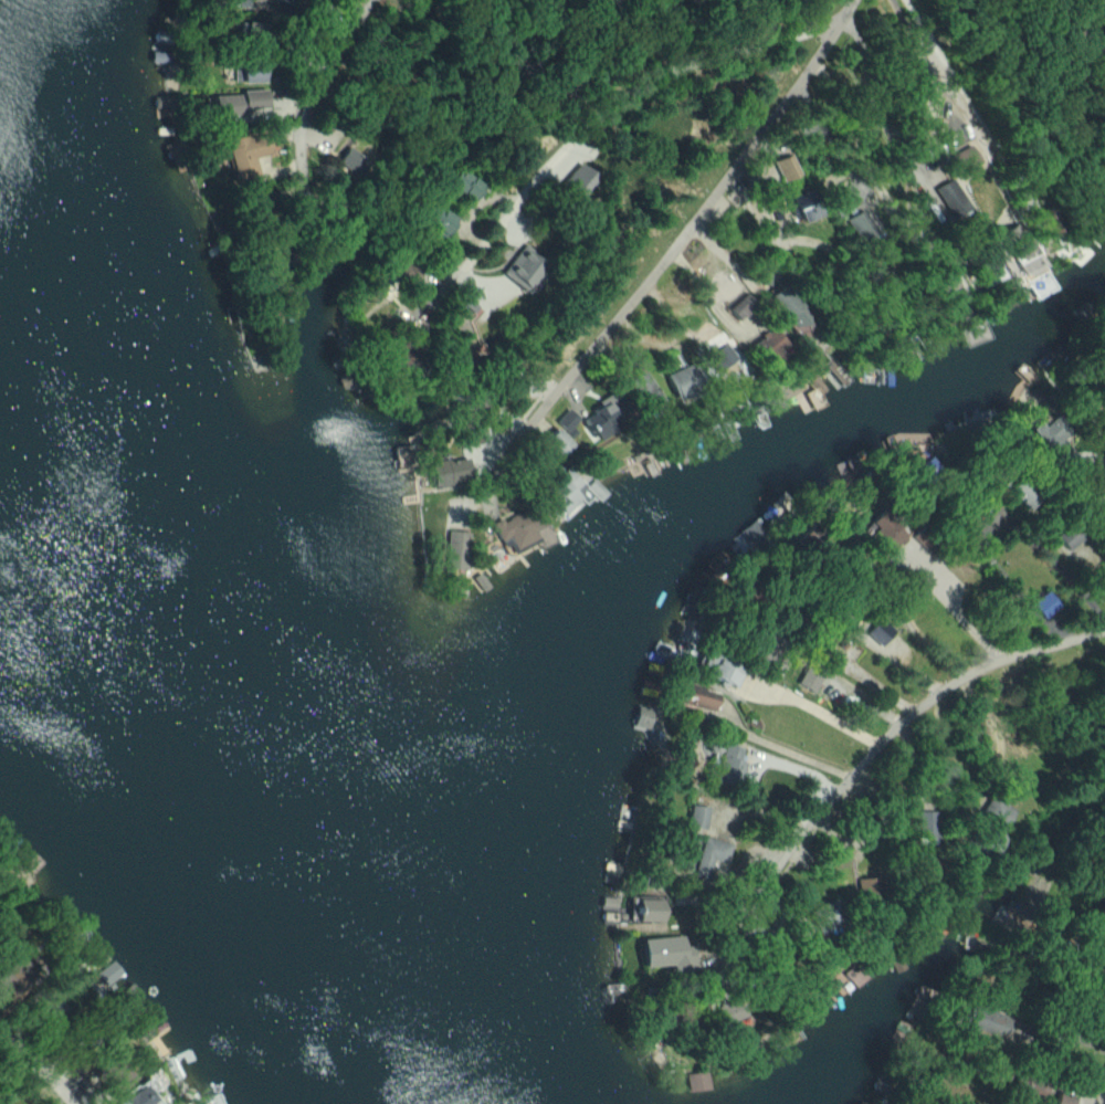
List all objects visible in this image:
building: (251, 29)
road: (927, 67)
building: (250, 73)
road: (314, 85)
road: (875, 102)
building: (239, 103)
road: (967, 104)
road: (601, 118)
building: (250, 154)
road: (865, 158)
building: (965, 159)
building: (350, 162)
building: (578, 180)
building: (462, 183)
building: (951, 198)
building: (802, 204)
building: (440, 221)
building: (859, 227)
road: (681, 235)
building: (1013, 243)
building: (524, 267)
building: (994, 272)
building: (743, 306)
building: (788, 307)
building: (770, 345)
building: (723, 360)
building: (683, 380)
building: (643, 391)
building: (603, 418)
building: (567, 420)
building: (1048, 431)
building: (558, 444)
road: (1086, 454)
building: (449, 470)
building: (569, 490)
building: (1021, 494)
building: (517, 527)
building: (887, 532)
building: (1069, 536)
building: (456, 548)
building: (1042, 602)
road: (962, 618)
building: (878, 631)
building: (722, 669)
building: (809, 679)
building: (697, 696)
road: (824, 711)
road: (994, 724)
road: (896, 733)
road: (794, 751)
building: (729, 764)
building: (993, 812)
building: (697, 816)
building: (925, 826)
building: (709, 855)
building: (870, 887)
building: (652, 908)
building: (828, 916)
building: (671, 951)
building: (854, 972)
building: (991, 1023)
road: (1066, 1035)
road: (36, 1068)
building: (697, 1080)
building: (1036, 1089)
building: (138, 1094)
building: (1065, 1097)

